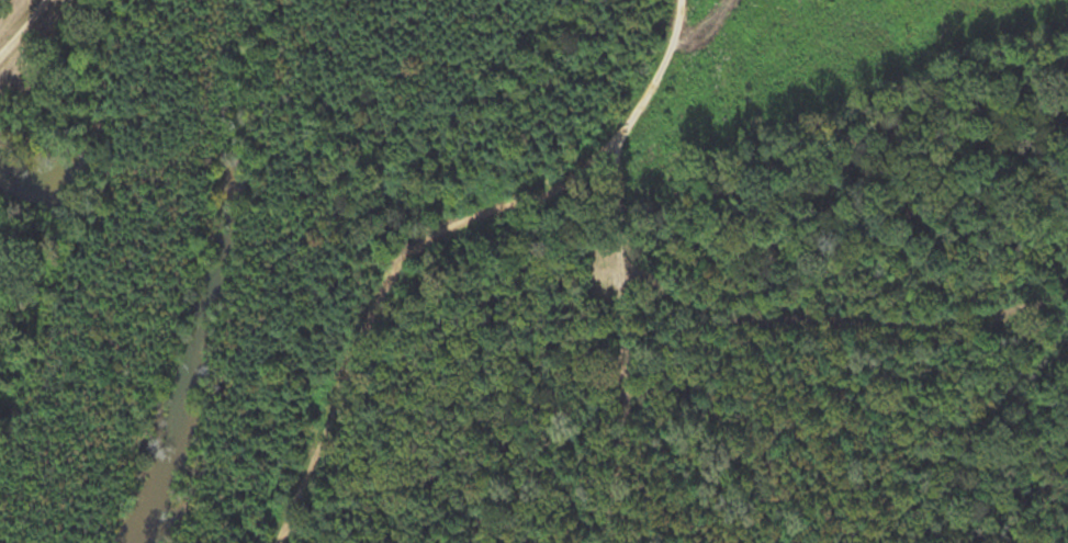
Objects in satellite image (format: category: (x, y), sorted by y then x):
road: (20, 34)
road: (587, 269)
road: (821, 389)

